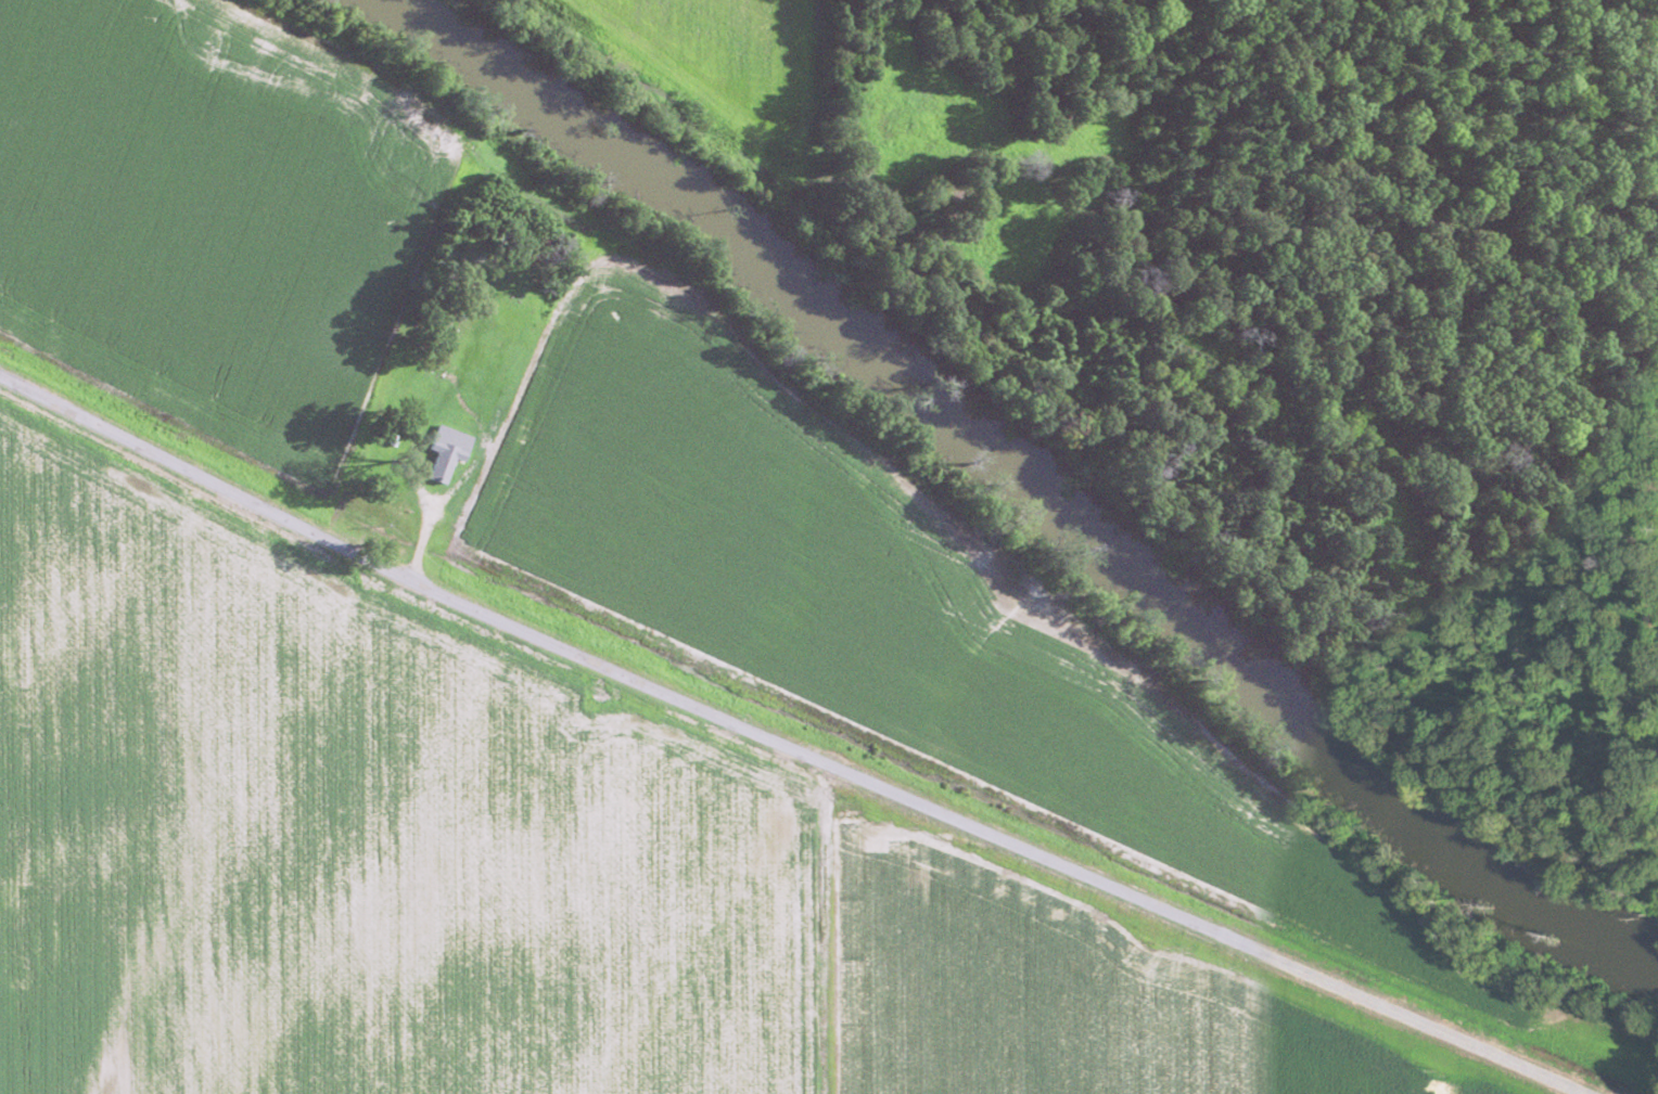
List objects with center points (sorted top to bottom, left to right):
building: (446, 452)
river: (1023, 480)
road: (791, 746)

